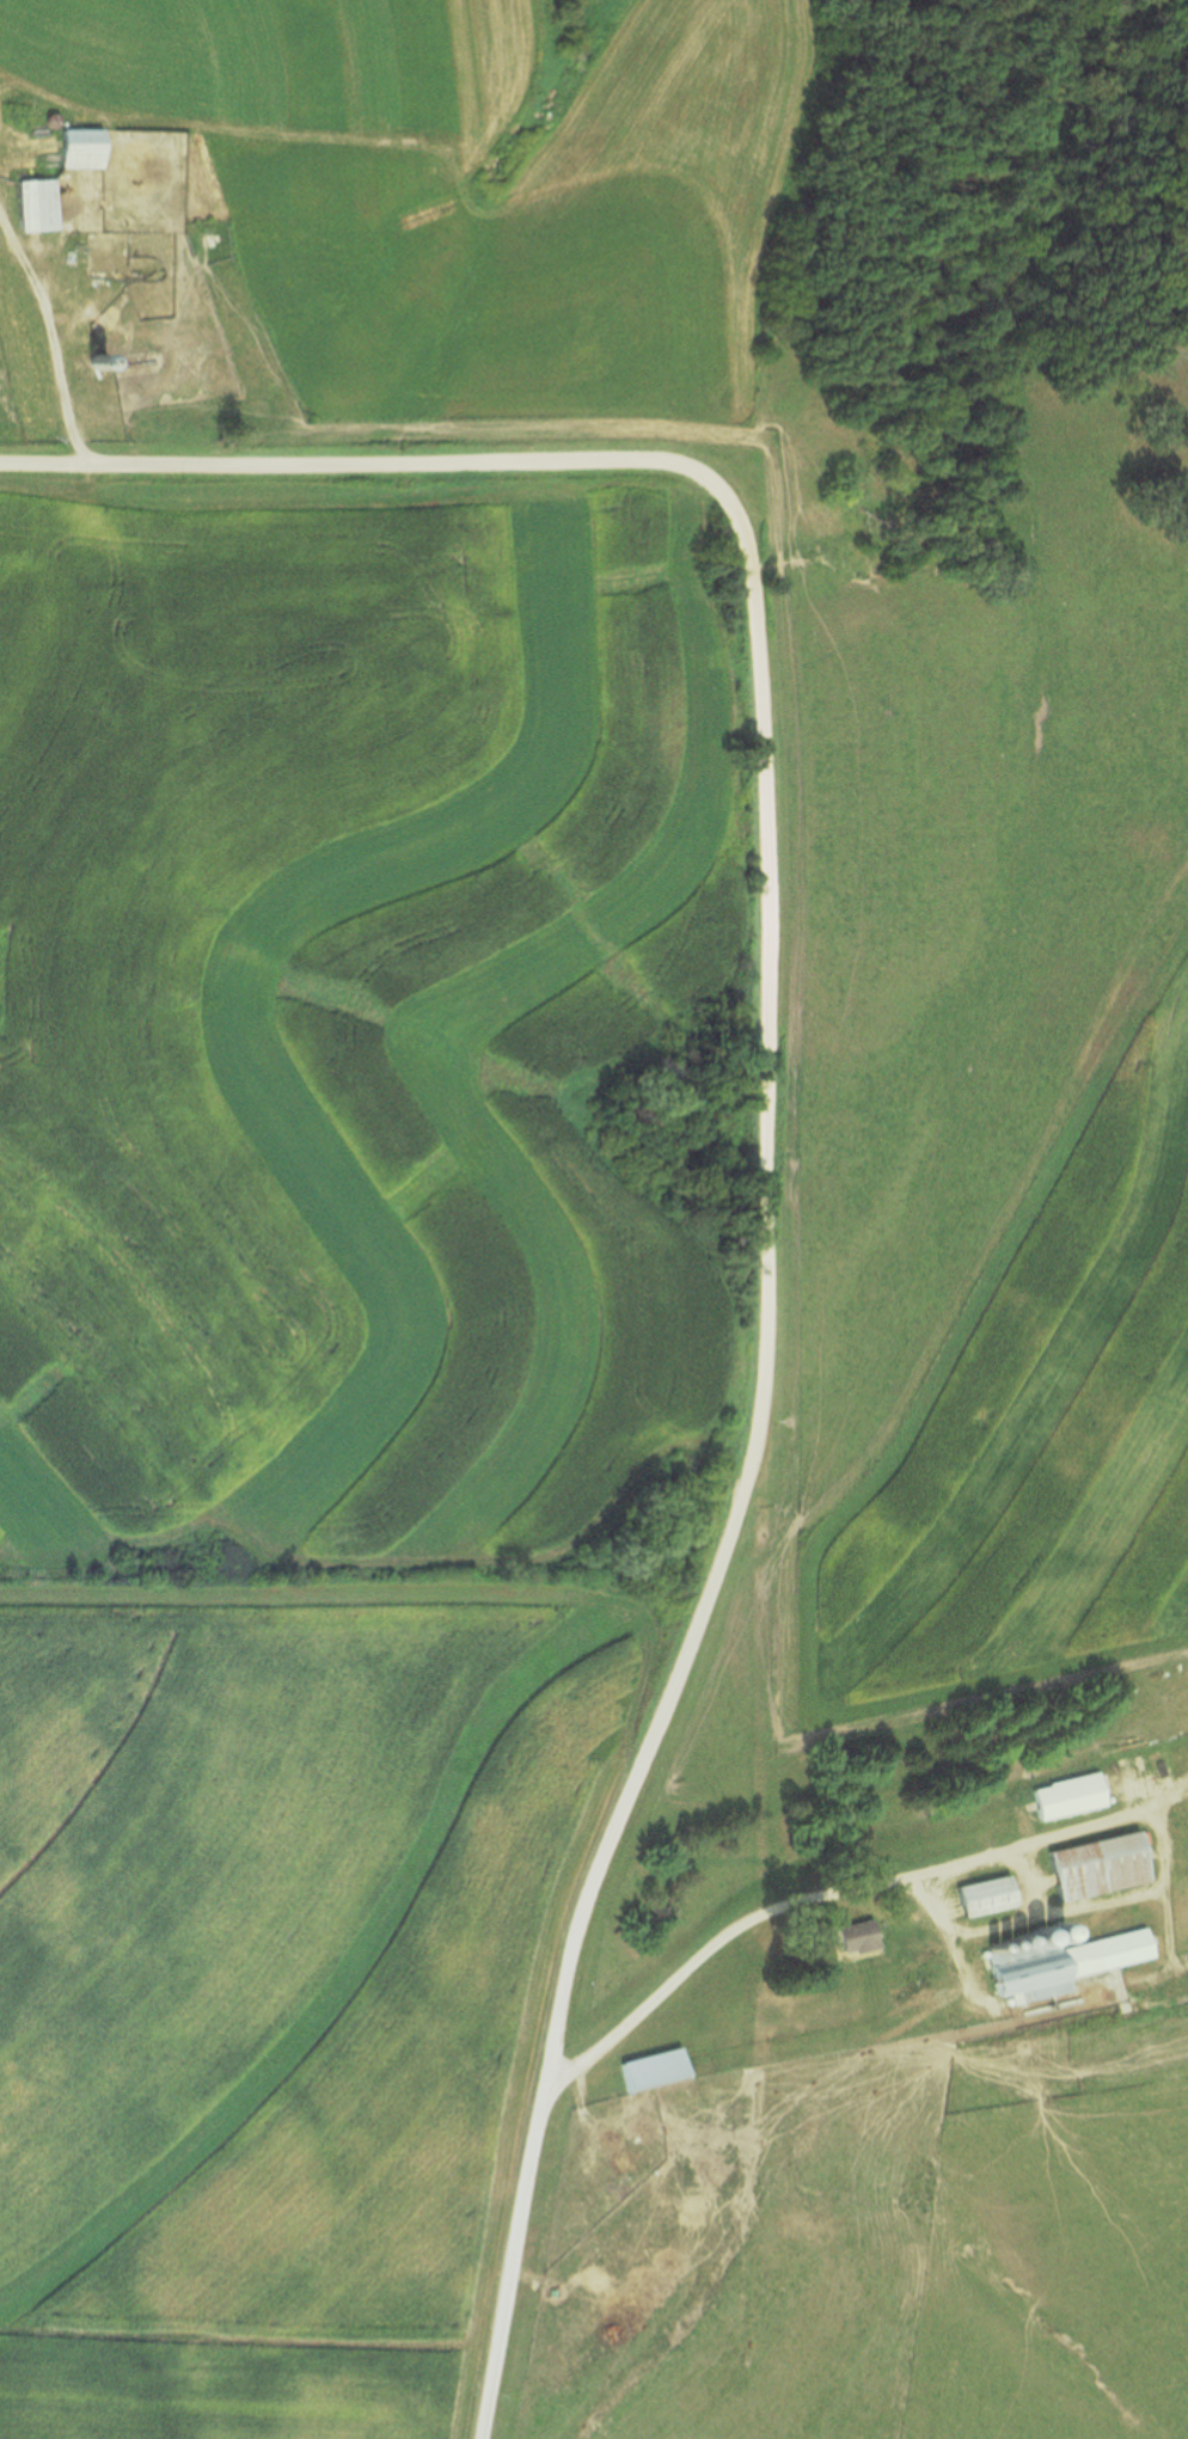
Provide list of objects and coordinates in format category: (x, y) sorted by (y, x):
building: (79, 148)
building: (35, 204)
road: (48, 348)
road: (763, 1123)
building: (1064, 1795)
building: (1092, 1865)
building: (979, 1894)
road: (737, 1922)
building: (852, 1935)
building: (1058, 1961)
building: (651, 2067)

